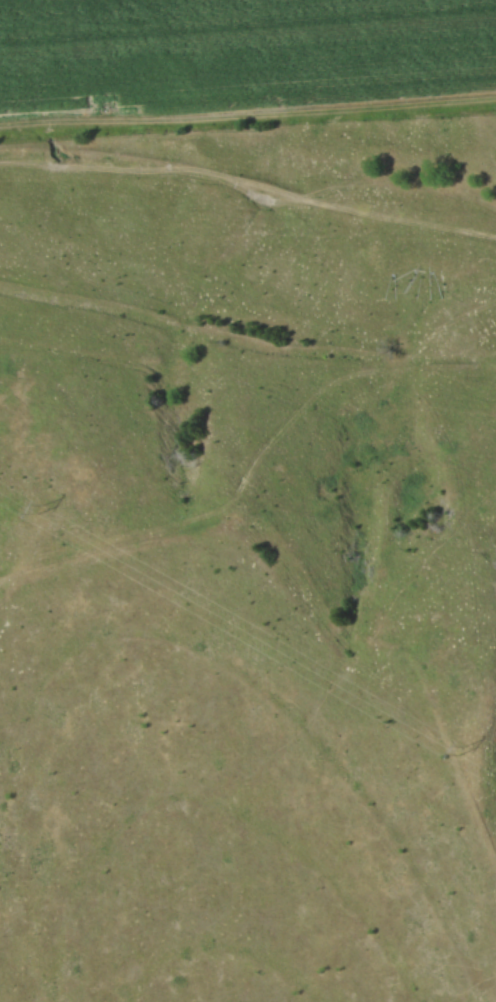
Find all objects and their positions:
crop: (233, 53)
power tower: (38, 507)
power tower: (462, 748)

